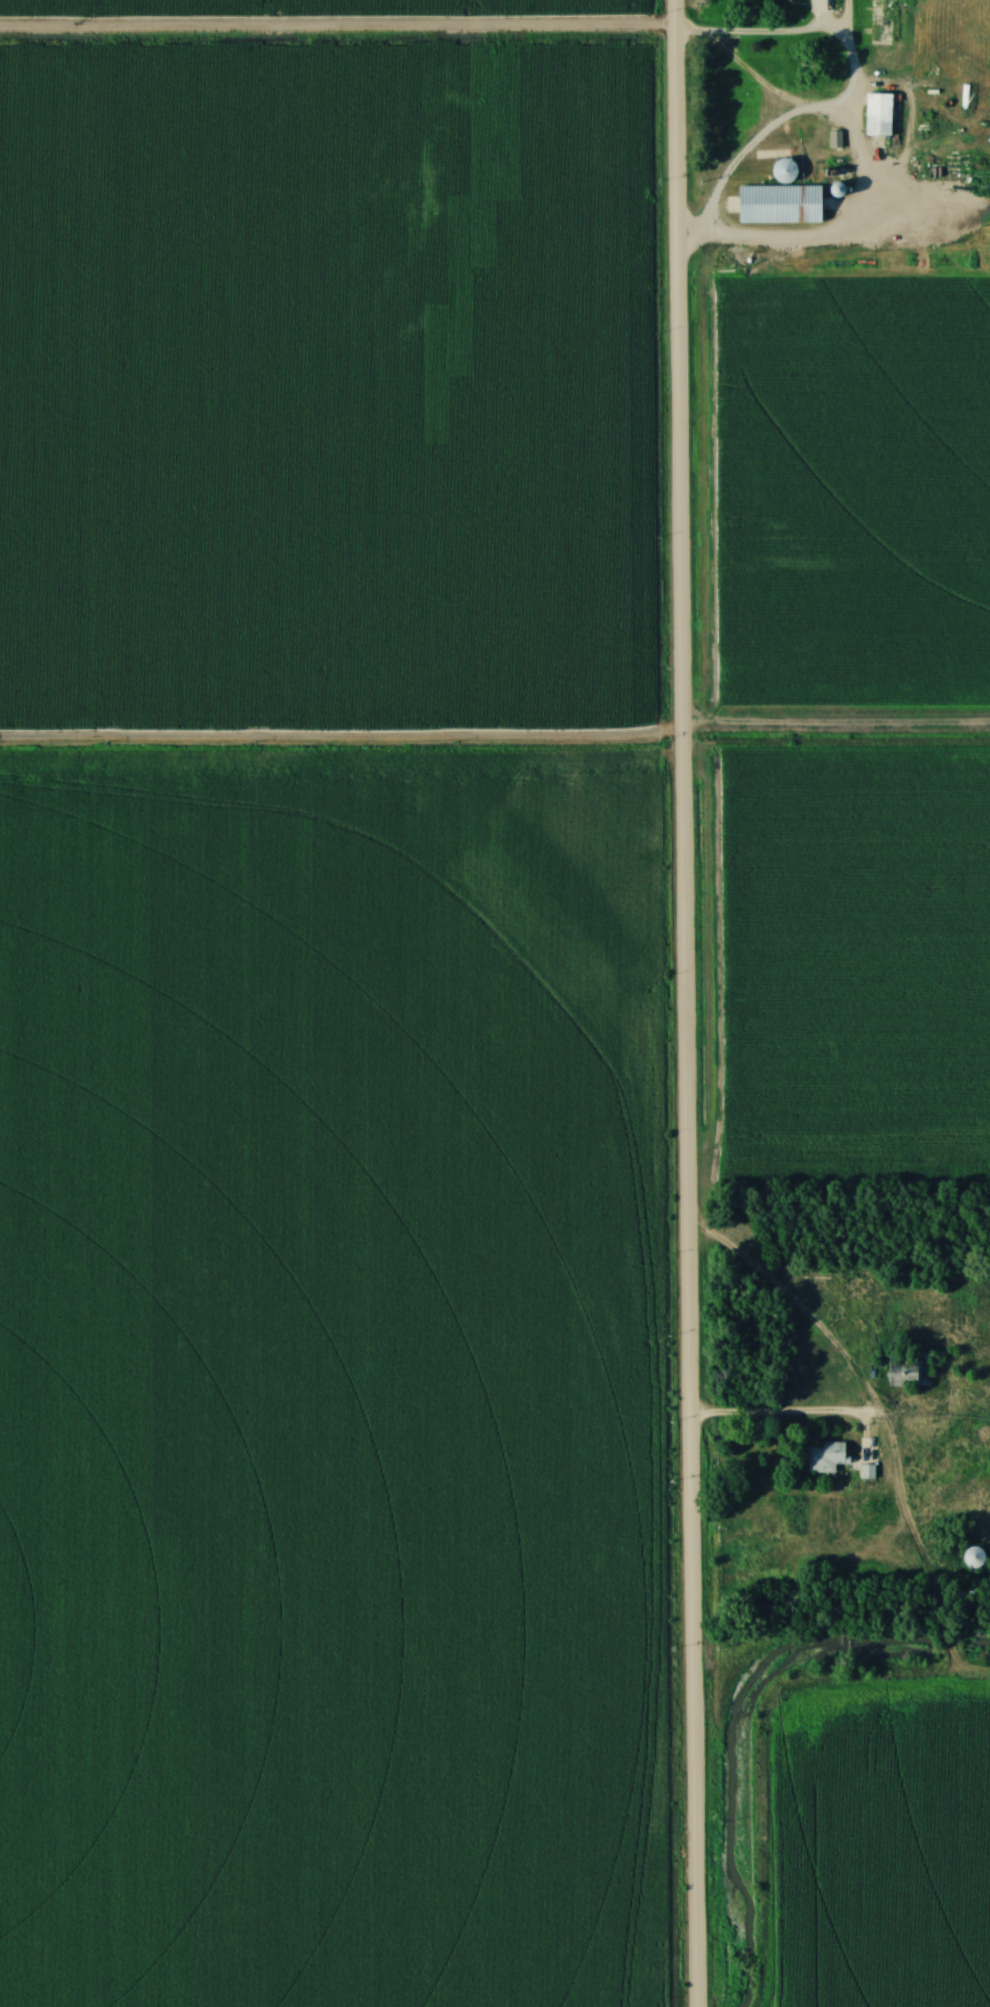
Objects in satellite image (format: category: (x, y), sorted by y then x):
road: (350, 30)
road: (807, 36)
building: (879, 115)
building: (802, 126)
building: (785, 172)
building: (781, 205)
road: (683, 1003)
building: (909, 1371)
road: (789, 1412)
building: (825, 1458)
road: (918, 1544)
building: (974, 1557)

